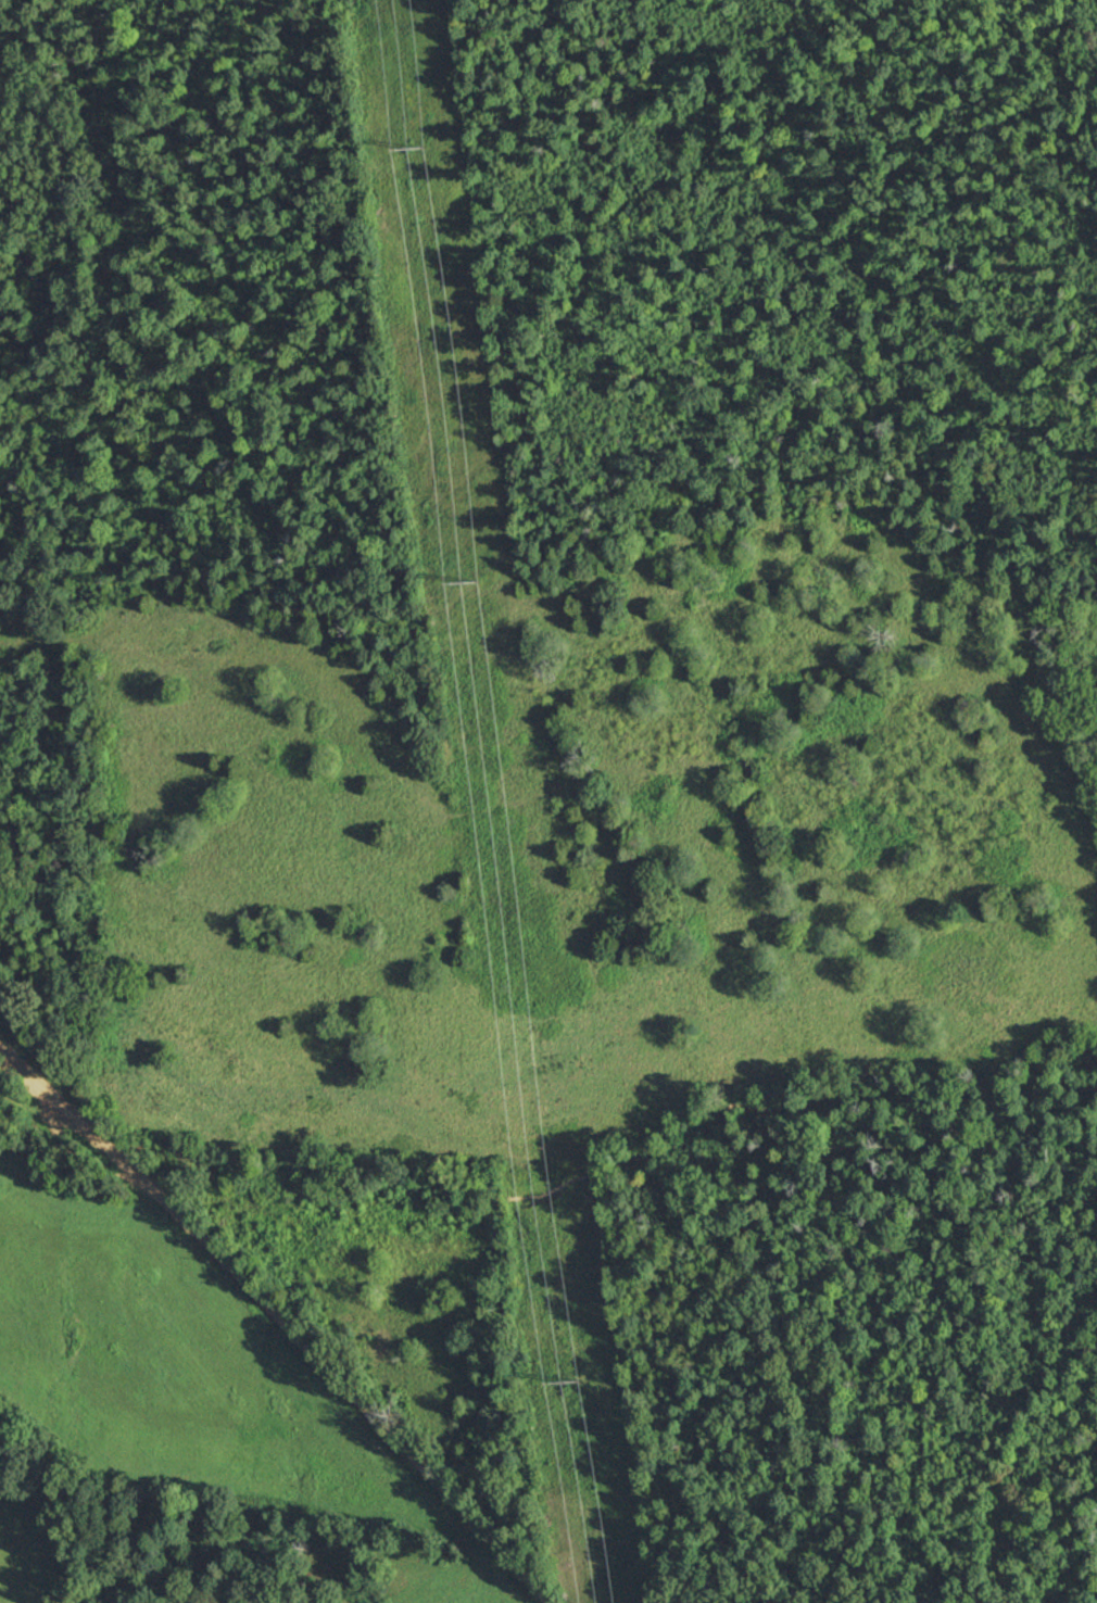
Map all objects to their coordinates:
power tower: (415, 144)
power tower: (470, 579)
road: (276, 1318)
power tower: (573, 1383)

